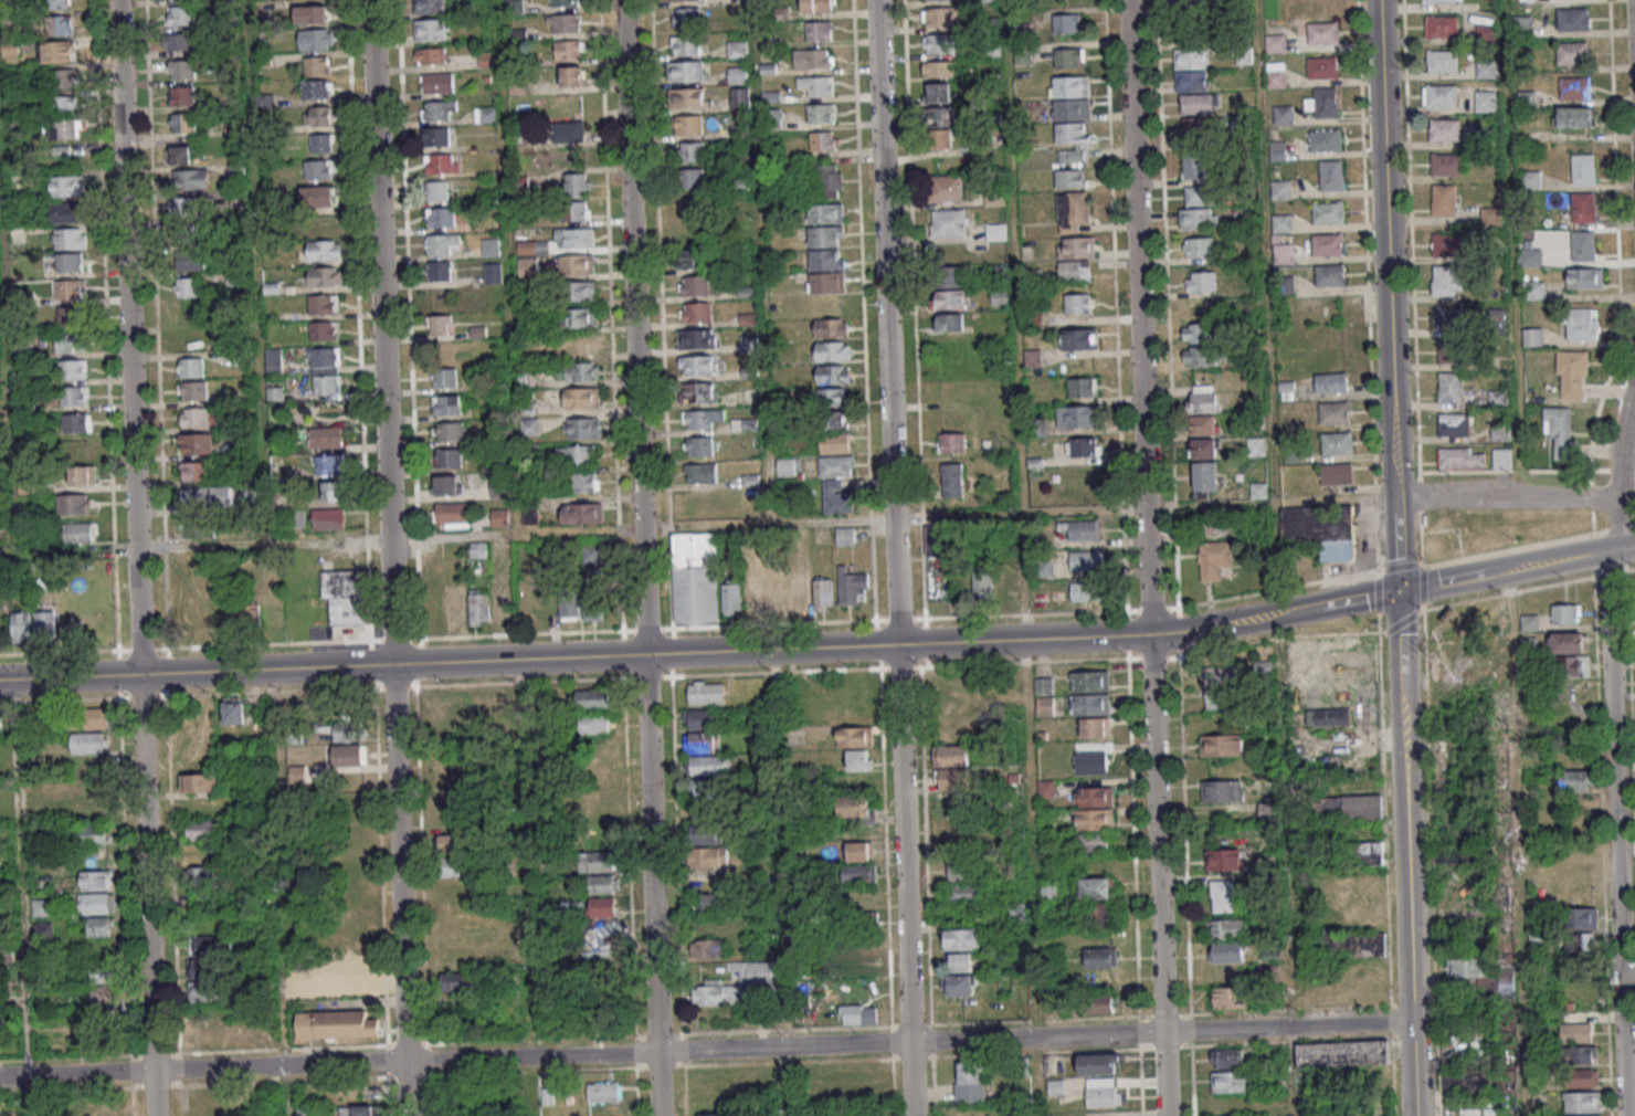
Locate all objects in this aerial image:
building: (1443, 1)
building: (565, 2)
building: (61, 3)
building: (816, 6)
building: (429, 7)
building: (1191, 8)
building: (312, 13)
building: (180, 14)
building: (686, 17)
building: (939, 17)
building: (1573, 19)
building: (563, 23)
building: (1066, 23)
building: (60, 24)
building: (1522, 25)
building: (1442, 27)
building: (431, 29)
building: (819, 30)
building: (1322, 33)
building: (1485, 34)
building: (317, 39)
building: (179, 41)
building: (938, 43)
building: (1275, 43)
building: (686, 45)
building: (737, 49)
building: (569, 50)
building: (57, 51)
building: (1572, 53)
building: (431, 55)
building: (814, 57)
building: (1068, 57)
building: (1442, 61)
building: (316, 65)
building: (1322, 67)
building: (181, 69)
building: (938, 69)
building: (1191, 69)
building: (1486, 69)
building: (686, 71)
building: (738, 75)
building: (1276, 75)
building: (572, 76)
building: (63, 77)
building: (437, 83)
building: (815, 85)
building: (1070, 86)
building: (1575, 87)
building: (316, 90)
building: (937, 92)
building: (182, 95)
building: (1439, 96)
building: (687, 97)
building: (739, 97)
building: (1484, 101)
building: (1323, 103)
building: (1199, 104)
building: (63, 105)
building: (440, 109)
building: (1070, 109)
building: (822, 113)
building: (486, 114)
building: (1283, 115)
building: (318, 116)
building: (940, 116)
building: (1575, 117)
building: (182, 122)
building: (688, 124)
building: (64, 128)
building: (1193, 129)
building: (1444, 130)
building: (569, 131)
building: (436, 136)
building: (939, 138)
building: (1325, 139)
building: (823, 140)
building: (1070, 141)
building: (321, 143)
building: (1277, 150)
building: (690, 151)
building: (181, 154)
building: (439, 164)
building: (1447, 165)
building: (1194, 166)
building: (1583, 169)
building: (319, 170)
building: (1331, 175)
building: (191, 178)
building: (692, 178)
building: (1070, 178)
building: (1530, 179)
building: (827, 180)
building: (578, 185)
building: (67, 186)
building: (945, 188)
building: (1280, 189)
building: (436, 190)
building: (1199, 194)
building: (319, 196)
building: (1443, 199)
building: (1583, 207)
building: (187, 208)
building: (576, 210)
building: (1072, 211)
building: (67, 212)
building: (1328, 212)
building: (825, 213)
building: (441, 217)
building: (1490, 217)
building: (1198, 219)
building: (948, 222)
building: (323, 223)
building: (1281, 223)
building: (995, 231)
building: (826, 236)
building: (70, 238)
building: (573, 238)
building: (443, 244)
building: (1327, 244)
building: (1447, 245)
building: (1583, 245)
building: (491, 246)
building: (1196, 246)
building: (1076, 248)
road: (1511, 248)
building: (325, 250)
building: (1283, 255)
road: (1012, 256)
building: (1531, 256)
building: (191, 259)
building: (690, 259)
road: (762, 261)
building: (70, 262)
building: (574, 264)
road: (507, 266)
building: (440, 271)
building: (826, 271)
building: (1075, 271)
road: (257, 272)
building: (493, 273)
building: (325, 275)
building: (1329, 275)
building: (949, 277)
building: (1585, 277)
building: (1446, 281)
building: (1201, 282)
building: (694, 285)
building: (188, 286)
building: (70, 288)
building: (1534, 289)
building: (583, 291)
road: (1388, 295)
building: (950, 298)
building: (1077, 303)
building: (323, 304)
road: (1267, 306)
building: (1196, 310)
building: (695, 312)
building: (70, 315)
building: (580, 317)
building: (1451, 317)
building: (949, 322)
building: (441, 325)
building: (1582, 325)
building: (831, 327)
building: (323, 330)
building: (1198, 334)
building: (1532, 337)
building: (696, 338)
building: (1079, 338)
building: (71, 343)
building: (749, 343)
building: (581, 344)
building: (832, 350)
building: (1452, 351)
building: (532, 352)
building: (1196, 356)
building: (1029, 358)
building: (274, 360)
building: (698, 365)
road: (7, 367)
building: (191, 367)
building: (72, 369)
building: (326, 370)
building: (579, 371)
building: (832, 375)
building: (1572, 375)
building: (444, 376)
building: (1331, 382)
building: (1082, 387)
building: (1449, 387)
building: (192, 390)
building: (698, 392)
building: (73, 396)
building: (581, 397)
building: (831, 397)
building: (1203, 399)
building: (447, 404)
building: (1335, 412)
building: (1076, 415)
building: (193, 418)
building: (700, 418)
building: (832, 420)
building: (76, 422)
building: (1203, 424)
building: (1453, 424)
building: (582, 428)
building: (1559, 430)
building: (449, 431)
building: (326, 439)
building: (951, 442)
building: (196, 443)
building: (834, 443)
building: (1337, 443)
building: (698, 446)
building: (1085, 446)
building: (1255, 446)
building: (1204, 448)
building: (577, 454)
building: (449, 457)
building: (1460, 457)
building: (1501, 457)
building: (329, 465)
building: (835, 465)
building: (788, 466)
building: (196, 471)
building: (700, 473)
building: (82, 474)
building: (1337, 474)
building: (1204, 478)
building: (952, 480)
building: (584, 482)
building: (449, 485)
building: (497, 487)
building: (333, 491)
road: (1507, 494)
building: (207, 496)
building: (836, 497)
building: (73, 504)
building: (530, 512)
building: (582, 513)
building: (452, 515)
building: (500, 517)
building: (328, 518)
building: (1216, 524)
road: (637, 527)
building: (196, 529)
building: (1080, 529)
building: (1321, 529)
road: (1613, 529)
building: (80, 531)
building: (845, 536)
building: (945, 540)
road: (1623, 547)
building: (477, 549)
building: (593, 554)
road: (389, 557)
road: (641, 557)
road: (895, 557)
road: (1148, 557)
road: (136, 558)
building: (1213, 559)
building: (1086, 560)
building: (1043, 568)
road: (1505, 570)
building: (695, 578)
building: (982, 585)
building: (851, 586)
road: (1527, 589)
building: (776, 591)
building: (1086, 591)
traffic signals: (1399, 591)
building: (823, 592)
building: (799, 593)
building: (345, 596)
building: (755, 597)
building: (731, 598)
building: (569, 603)
building: (593, 603)
building: (500, 606)
building: (478, 607)
building: (455, 608)
road: (1298, 610)
building: (1565, 613)
building: (250, 617)
building: (203, 620)
building: (1529, 622)
building: (44, 624)
building: (21, 627)
building: (1568, 642)
road: (599, 656)
building: (1571, 665)
building: (1263, 671)
building: (1089, 681)
building: (1043, 686)
building: (1217, 688)
building: (706, 693)
building: (593, 698)
building: (1090, 704)
building: (1045, 706)
building: (234, 710)
building: (88, 717)
building: (1328, 717)
building: (702, 718)
building: (0, 723)
building: (593, 724)
building: (1095, 727)
building: (346, 731)
building: (854, 737)
building: (89, 741)
building: (702, 741)
building: (1221, 745)
road: (1613, 748)
building: (349, 755)
building: (858, 759)
building: (1090, 762)
building: (951, 766)
building: (1575, 781)
building: (198, 782)
building: (706, 789)
building: (1222, 792)
building: (1094, 797)
road: (1404, 806)
building: (1346, 808)
building: (856, 809)
building: (1093, 819)
building: (202, 830)
building: (709, 833)
building: (93, 834)
road: (1029, 839)
building: (449, 842)
building: (1093, 842)
road: (1516, 843)
building: (859, 851)
building: (1365, 853)
building: (1452, 854)
building: (708, 856)
building: (1224, 860)
building: (598, 861)
road: (1428, 863)
road: (1285, 865)
building: (452, 866)
building: (963, 871)
building: (858, 873)
building: (201, 876)
building: (95, 880)
road: (782, 882)
building: (603, 884)
road: (525, 887)
building: (1095, 887)
road: (278, 893)
building: (963, 893)
building: (1222, 895)
road: (19, 897)
building: (96, 903)
building: (706, 903)
building: (602, 907)
building: (1103, 912)
building: (1582, 917)
building: (863, 922)
building: (99, 926)
building: (1226, 928)
building: (962, 939)
building: (1580, 941)
building: (1358, 943)
building: (707, 948)
building: (1227, 951)
building: (204, 956)
building: (1100, 957)
building: (961, 961)
building: (863, 964)
building: (755, 971)
building: (1485, 975)
building: (461, 980)
building: (103, 985)
building: (349, 985)
building: (959, 986)
building: (609, 990)
building: (204, 991)
building: (716, 993)
building: (1231, 997)
building: (1101, 1003)
building: (858, 1014)
building: (335, 1024)
building: (1575, 1032)
building: (208, 1035)
building: (265, 1038)
road: (705, 1051)
building: (1342, 1053)
building: (1580, 1054)
building: (1233, 1057)
building: (1099, 1064)
road: (1412, 1068)
road: (1036, 1076)
building: (1582, 1078)
building: (970, 1081)
building: (1466, 1081)
building: (1228, 1082)
building: (604, 1092)
building: (547, 1095)
building: (1104, 1096)
building: (1582, 1101)
building: (357, 1110)
building: (713, 1115)
building: (1457, 1115)
building: (1581, 1115)

